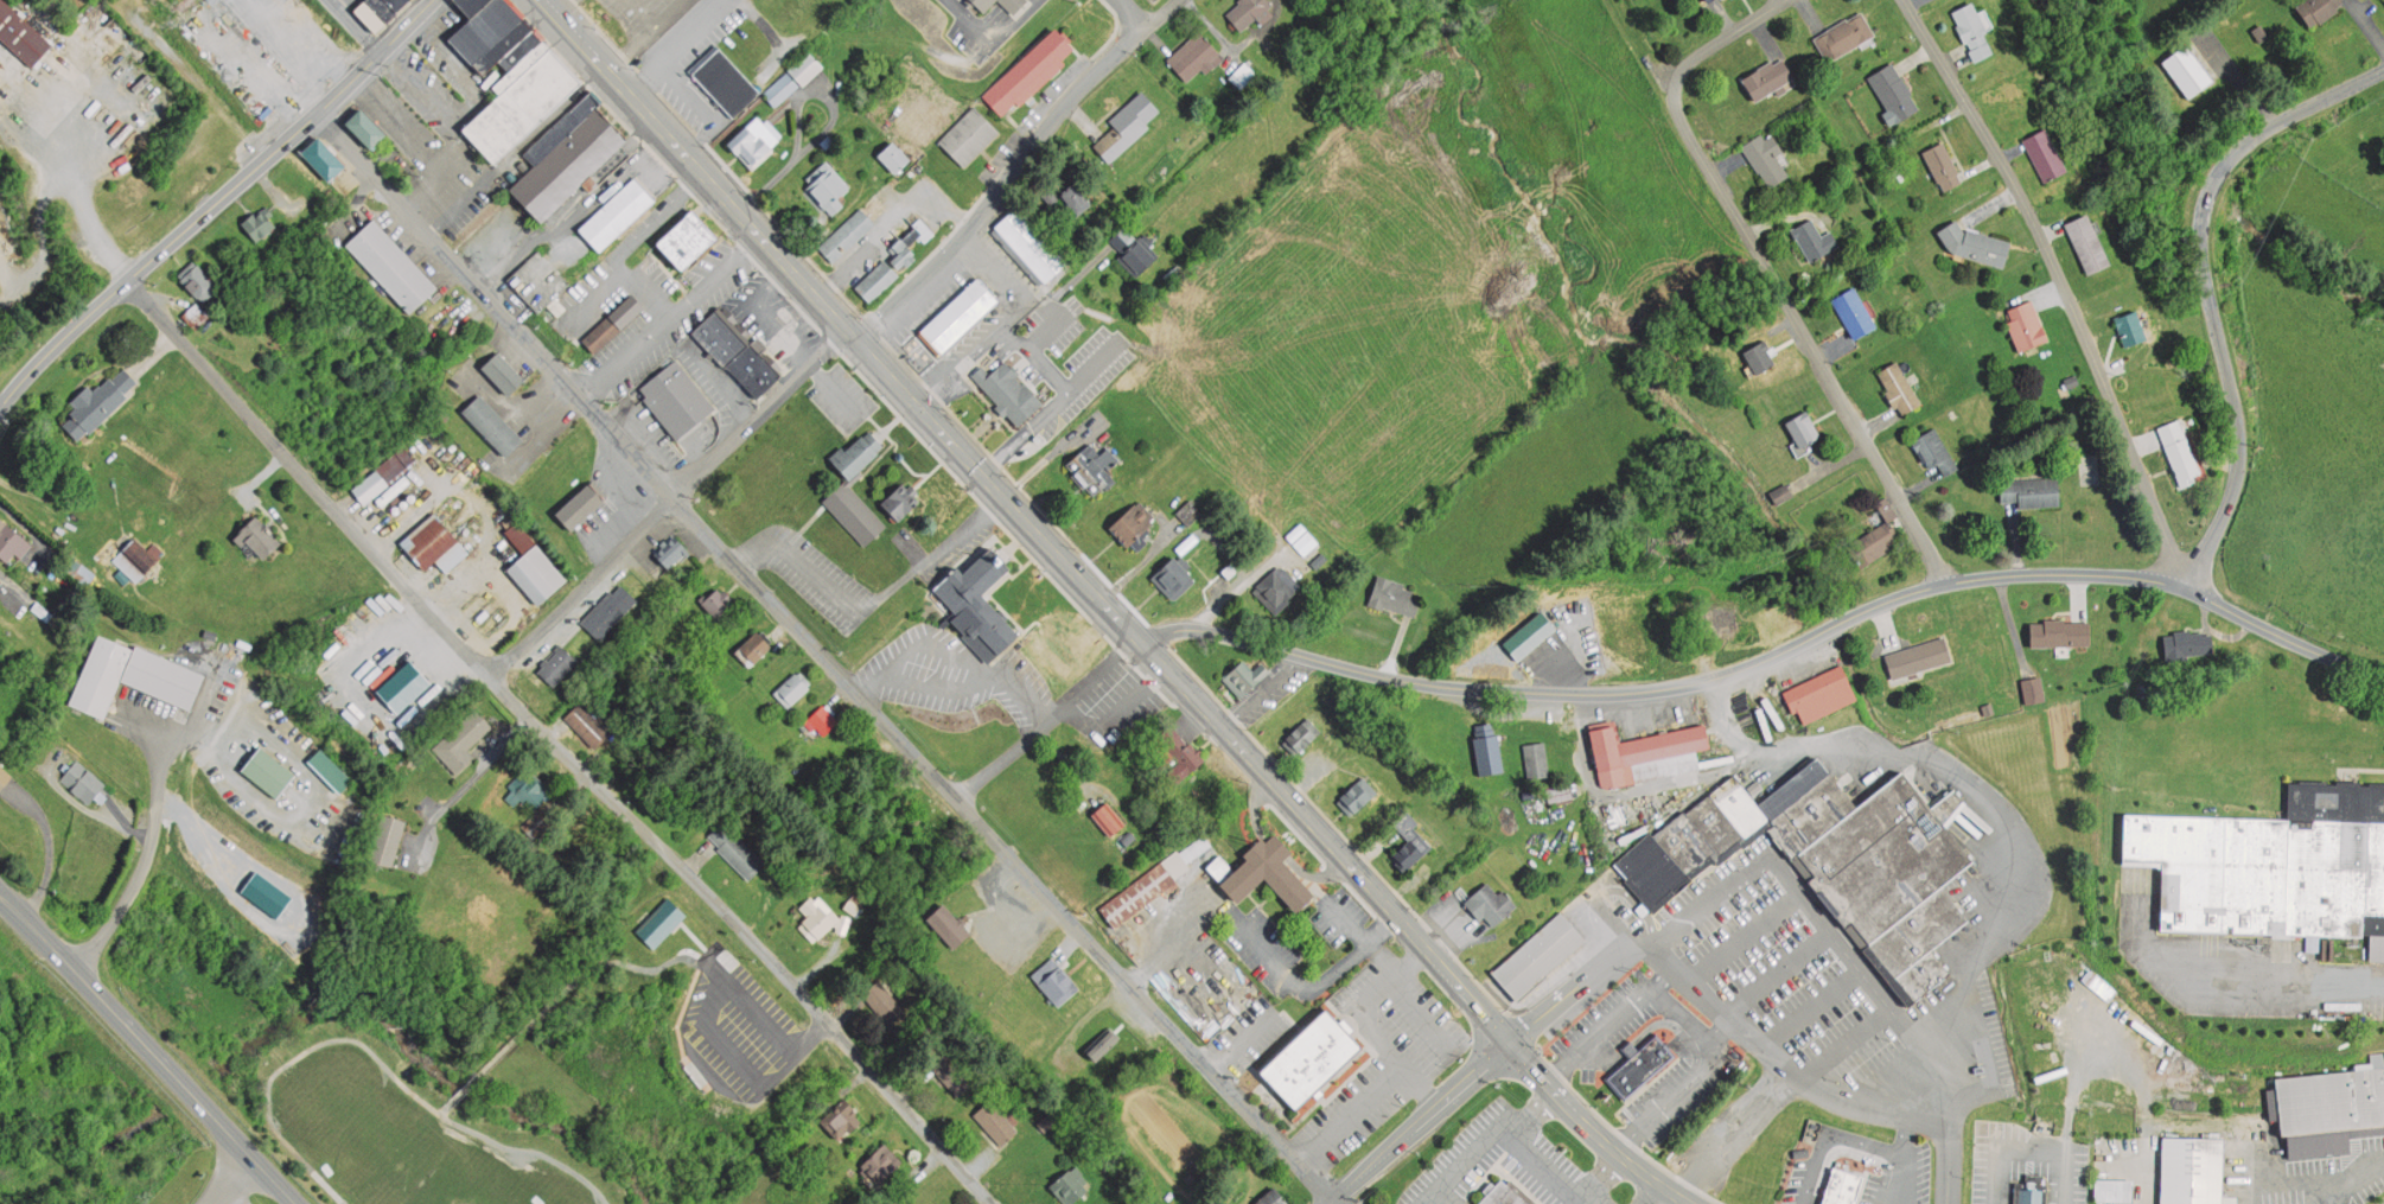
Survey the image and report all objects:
building: (1709, 0)
building: (1014, 2)
building: (982, 5)
building: (465, 6)
building: (2325, 8)
building: (372, 11)
building: (1251, 11)
road: (1135, 13)
building: (96, 19)
road: (352, 25)
building: (480, 27)
building: (1975, 31)
road: (1729, 36)
building: (1844, 36)
building: (19, 46)
building: (497, 46)
building: (517, 49)
building: (1194, 55)
building: (805, 65)
building: (1027, 70)
building: (2189, 71)
building: (1771, 78)
building: (727, 82)
building: (780, 87)
building: (1895, 91)
building: (517, 101)
building: (1128, 122)
building: (363, 127)
building: (560, 127)
building: (968, 135)
building: (752, 140)
building: (2048, 153)
building: (892, 155)
building: (320, 157)
building: (1766, 159)
building: (566, 166)
building: (1944, 166)
road: (1013, 167)
building: (827, 184)
building: (1075, 198)
road: (212, 202)
building: (614, 214)
building: (256, 222)
building: (869, 228)
building: (1817, 238)
building: (689, 240)
building: (2091, 242)
building: (1030, 243)
building: (1975, 244)
building: (1133, 250)
road: (779, 259)
building: (389, 265)
building: (195, 278)
building: (875, 278)
building: (533, 280)
road: (2060, 285)
road: (2211, 285)
building: (1855, 312)
building: (196, 314)
building: (960, 317)
building: (612, 323)
building: (2027, 325)
road: (1799, 329)
building: (2131, 329)
building: (734, 353)
building: (1760, 357)
building: (502, 371)
building: (1124, 378)
building: (1901, 386)
building: (1008, 389)
building: (675, 397)
building: (95, 403)
road: (759, 414)
building: (490, 423)
building: (1804, 427)
building: (1934, 450)
building: (2180, 450)
building: (858, 452)
building: (395, 460)
building: (1092, 466)
building: (370, 483)
building: (2034, 490)
building: (900, 501)
building: (581, 504)
building: (1887, 507)
building: (853, 511)
building: (1134, 523)
building: (256, 535)
building: (1302, 540)
building: (1875, 541)
building: (434, 542)
building: (9, 543)
building: (671, 554)
building: (138, 555)
building: (533, 567)
building: (1173, 576)
road: (582, 585)
building: (1276, 587)
building: (1396, 594)
building: (716, 599)
building: (980, 605)
building: (608, 610)
building: (1721, 617)
building: (2064, 632)
building: (1057, 636)
building: (2189, 641)
building: (756, 645)
road: (821, 654)
road: (1772, 655)
building: (1920, 656)
building: (556, 663)
building: (100, 674)
building: (161, 674)
building: (1247, 675)
building: (792, 687)
building: (2034, 689)
building: (1819, 693)
building: (823, 718)
building: (587, 721)
building: (1301, 735)
building: (459, 740)
road: (557, 743)
building: (1489, 748)
building: (1179, 753)
building: (1647, 753)
building: (1536, 759)
building: (266, 770)
building: (331, 772)
building: (2, 775)
building: (81, 779)
building: (529, 786)
building: (1560, 791)
building: (1357, 796)
building: (1806, 805)
building: (1741, 807)
building: (1110, 821)
building: (1717, 827)
building: (387, 839)
building: (1498, 842)
building: (1688, 845)
building: (734, 848)
building: (1194, 849)
building: (1409, 855)
building: (1888, 856)
building: (2275, 862)
road: (1350, 865)
building: (1264, 871)
road: (139, 872)
building: (1652, 872)
building: (1137, 896)
building: (1492, 905)
building: (814, 917)
building: (658, 922)
building: (949, 923)
building: (1919, 932)
building: (1541, 956)
building: (1923, 976)
building: (1054, 979)
road: (572, 980)
road: (1573, 992)
building: (2052, 1000)
parking lot: (740, 1031)
building: (1104, 1043)
traffic signals: (1510, 1043)
road: (148, 1050)
road: (375, 1055)
building: (1309, 1058)
building: (1642, 1066)
building: (2055, 1071)
building: (950, 1072)
park: (559, 1077)
road: (463, 1087)
building: (2333, 1098)
road: (447, 1101)
building: (841, 1116)
building: (1045, 1120)
building: (995, 1121)
road: (1416, 1122)
building: (2321, 1144)
building: (879, 1162)
building: (2198, 1171)
building: (1067, 1184)
building: (1843, 1186)
building: (2117, 1190)
building: (1506, 1193)
road: (1647, 1193)
building: (2031, 1195)
building: (1275, 1198)
road: (1339, 1199)

